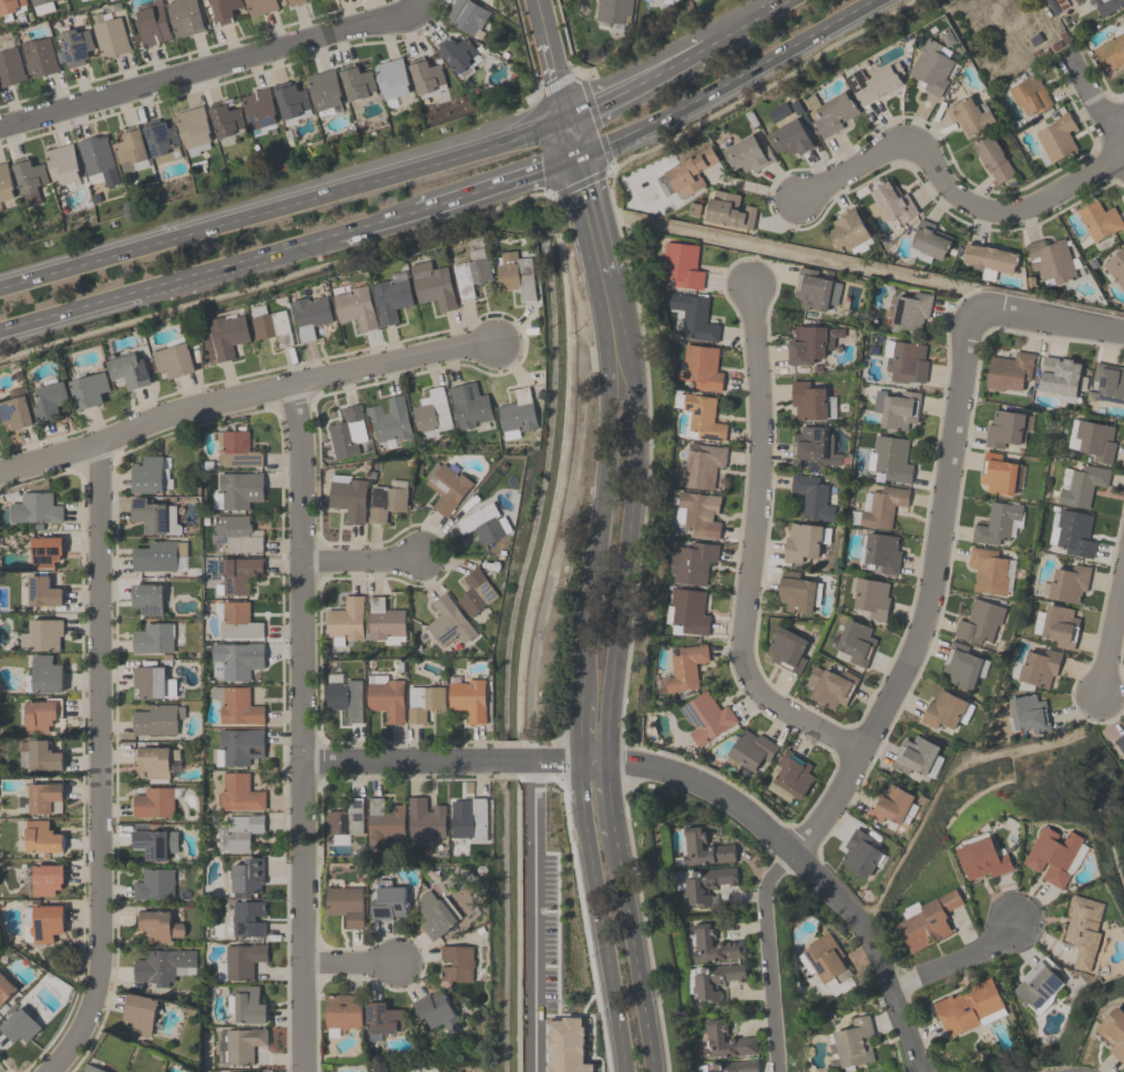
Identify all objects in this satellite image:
building: (1076, 0)
building: (655, 1)
building: (294, 2)
building: (41, 6)
building: (260, 6)
building: (1106, 6)
building: (10, 8)
road: (417, 9)
building: (224, 10)
building: (614, 11)
building: (184, 17)
building: (466, 17)
building: (152, 22)
road: (745, 22)
building: (109, 34)
building: (74, 45)
building: (1111, 51)
building: (460, 55)
building: (39, 57)
road: (551, 58)
building: (10, 67)
building: (931, 67)
road: (208, 72)
building: (426, 75)
building: (391, 79)
building: (356, 81)
road: (635, 81)
road: (725, 81)
building: (875, 82)
building: (324, 91)
building: (1030, 94)
building: (293, 101)
building: (258, 109)
road: (1097, 112)
building: (834, 113)
building: (969, 115)
traffic signals: (565, 116)
road: (1114, 119)
building: (225, 120)
road: (554, 120)
building: (194, 130)
road: (571, 136)
building: (1056, 136)
building: (790, 137)
building: (162, 142)
building: (130, 146)
building: (748, 154)
traffic signals: (578, 157)
building: (992, 157)
building: (96, 160)
road: (565, 163)
building: (62, 165)
building: (691, 171)
building: (29, 178)
building: (6, 183)
road: (946, 183)
road: (486, 192)
building: (890, 202)
road: (272, 205)
building: (0, 207)
building: (728, 210)
building: (1099, 219)
road: (377, 227)
building: (849, 232)
building: (929, 242)
building: (990, 258)
road: (604, 259)
building: (1052, 261)
building: (682, 265)
building: (1116, 267)
building: (470, 275)
building: (515, 275)
building: (432, 285)
road: (167, 286)
building: (815, 289)
building: (391, 297)
building: (355, 307)
building: (910, 310)
building: (310, 315)
building: (694, 317)
road: (1046, 320)
building: (270, 325)
building: (227, 335)
building: (810, 343)
building: (174, 360)
building: (905, 360)
building: (702, 367)
building: (130, 370)
building: (1009, 371)
building: (1061, 377)
building: (1108, 381)
building: (89, 389)
building: (50, 399)
building: (808, 400)
building: (469, 405)
road: (246, 406)
building: (896, 408)
building: (14, 414)
building: (430, 414)
building: (517, 415)
building: (701, 416)
building: (389, 419)
building: (1004, 428)
building: (347, 431)
building: (1095, 440)
building: (813, 448)
building: (236, 449)
building: (889, 459)
building: (702, 464)
building: (998, 473)
building: (146, 474)
building: (1080, 484)
building: (446, 486)
building: (237, 490)
building: (349, 496)
building: (813, 497)
building: (387, 500)
building: (879, 507)
building: (34, 508)
building: (698, 512)
building: (153, 515)
building: (484, 523)
building: (997, 523)
road: (600, 530)
building: (1071, 531)
building: (236, 533)
building: (804, 541)
road: (750, 549)
building: (44, 551)
building: (882, 551)
building: (157, 555)
road: (357, 559)
building: (692, 562)
building: (990, 571)
building: (237, 574)
building: (1069, 585)
building: (42, 591)
building: (476, 592)
building: (794, 592)
building: (147, 598)
building: (871, 598)
building: (688, 610)
building: (346, 620)
building: (237, 621)
building: (385, 622)
building: (449, 622)
building: (982, 623)
building: (1057, 626)
road: (1111, 633)
building: (41, 634)
building: (153, 637)
building: (856, 642)
building: (786, 649)
building: (236, 660)
building: (963, 666)
building: (685, 667)
building: (1039, 667)
building: (45, 674)
building: (152, 681)
building: (831, 686)
building: (345, 695)
building: (386, 696)
building: (469, 698)
road: (530, 698)
building: (423, 702)
building: (236, 705)
road: (878, 705)
building: (947, 711)
building: (41, 714)
building: (1029, 714)
road: (607, 716)
building: (705, 717)
building: (156, 719)
road: (581, 729)
road: (299, 733)
building: (1120, 742)
building: (239, 746)
building: (750, 749)
building: (43, 756)
building: (919, 757)
building: (156, 760)
road: (592, 760)
road: (440, 762)
road: (99, 765)
building: (791, 773)
building: (237, 792)
building: (43, 796)
building: (154, 803)
building: (893, 805)
building: (345, 818)
building: (469, 818)
building: (423, 819)
building: (382, 821)
building: (242, 830)
building: (41, 837)
building: (154, 841)
building: (721, 847)
building: (860, 854)
building: (1053, 855)
building: (982, 858)
road: (806, 869)
building: (246, 875)
building: (47, 878)
building: (154, 884)
building: (706, 884)
building: (388, 900)
building: (345, 903)
building: (436, 913)
road: (600, 916)
building: (247, 918)
building: (44, 921)
building: (928, 921)
building: (157, 925)
building: (1083, 928)
building: (703, 941)
road: (957, 957)
building: (243, 960)
building: (457, 962)
building: (827, 962)
building: (162, 964)
road: (348, 967)
building: (713, 980)
building: (1038, 986)
building: (6, 988)
building: (246, 1004)
building: (970, 1007)
building: (436, 1011)
building: (140, 1012)
building: (341, 1012)
building: (384, 1018)
building: (19, 1025)
building: (1114, 1032)
building: (725, 1040)
building: (852, 1042)
building: (243, 1043)
building: (729, 1066)
building: (91, 1069)

